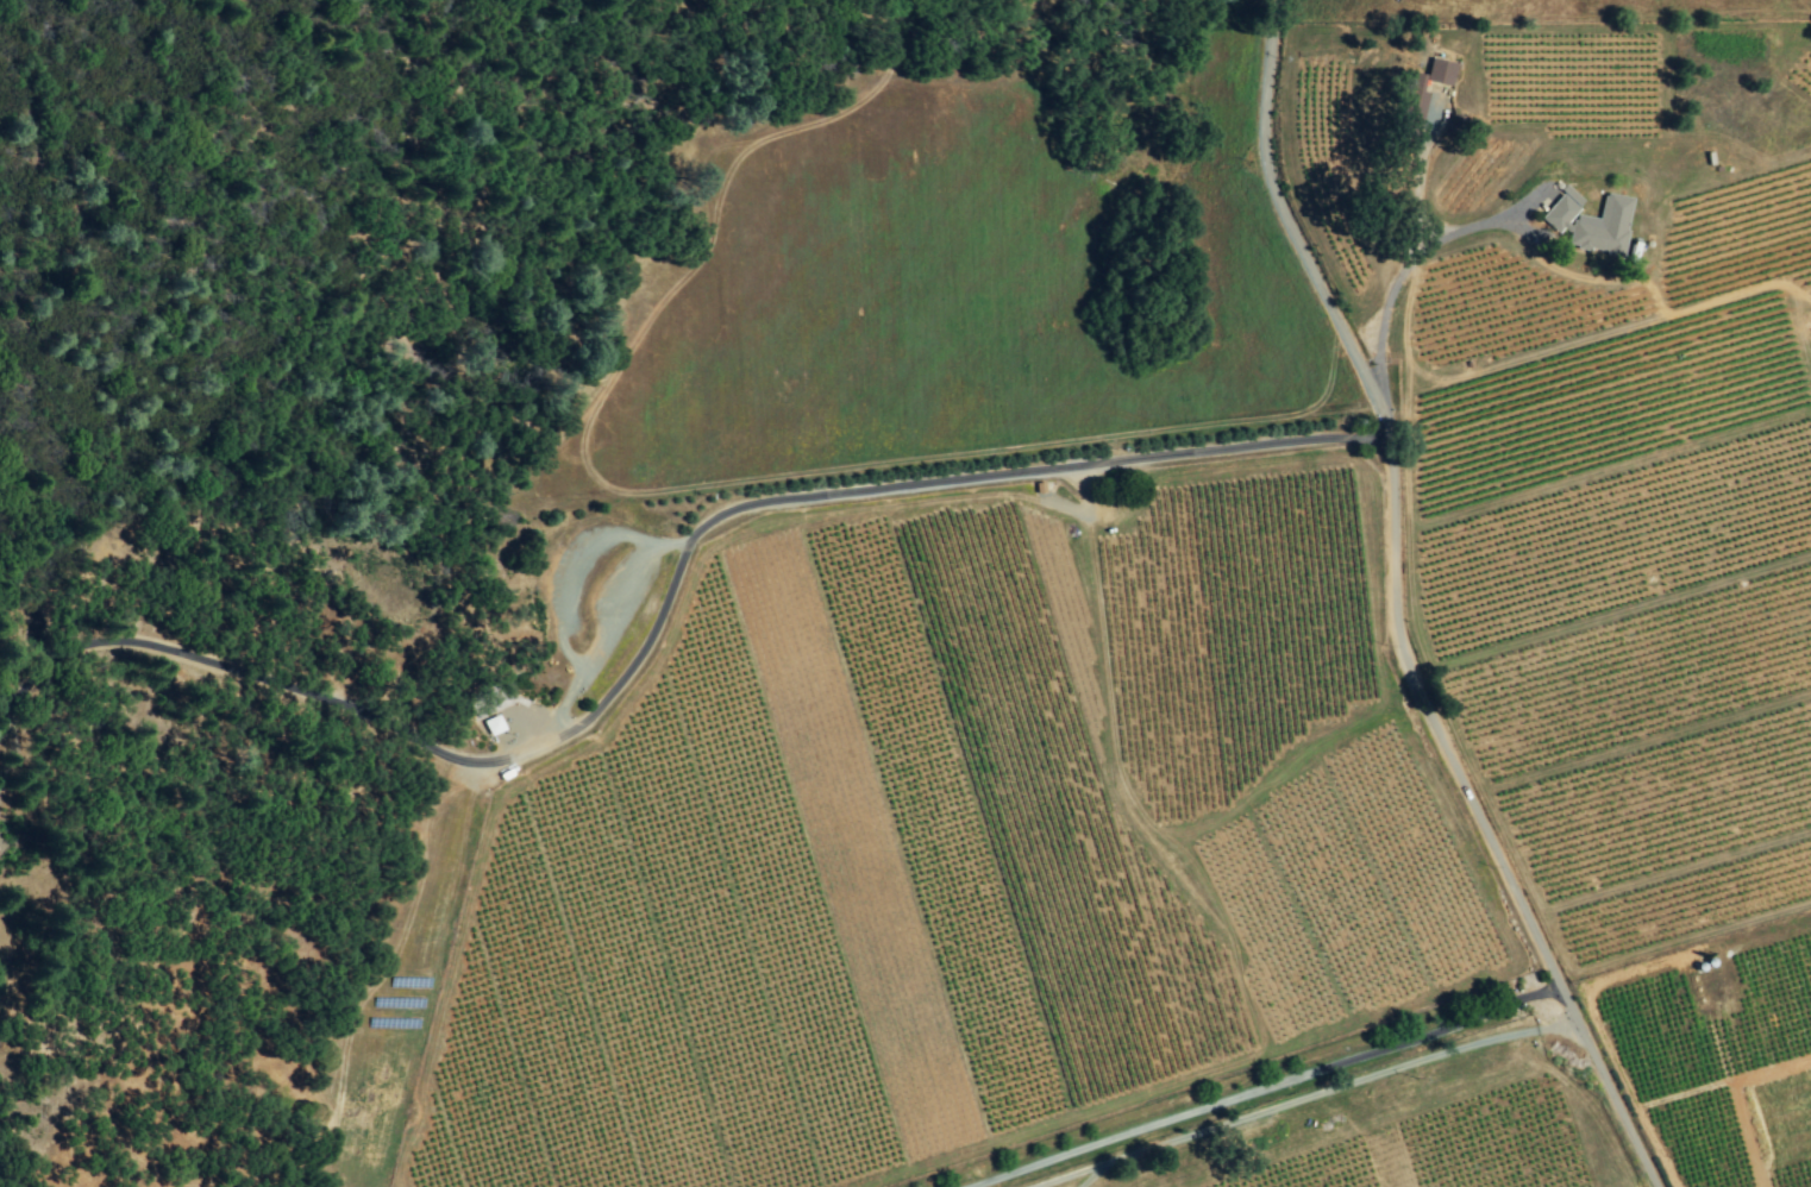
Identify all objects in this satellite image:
building: (1439, 71)
building: (1417, 95)
building: (1590, 221)
road: (1408, 266)
road: (570, 578)
road: (659, 591)
road: (1406, 605)
road: (610, 622)
building: (494, 726)
road: (1270, 1087)
road: (1339, 1087)
road: (1065, 1174)
road: (1089, 1174)
road: (1032, 1186)

